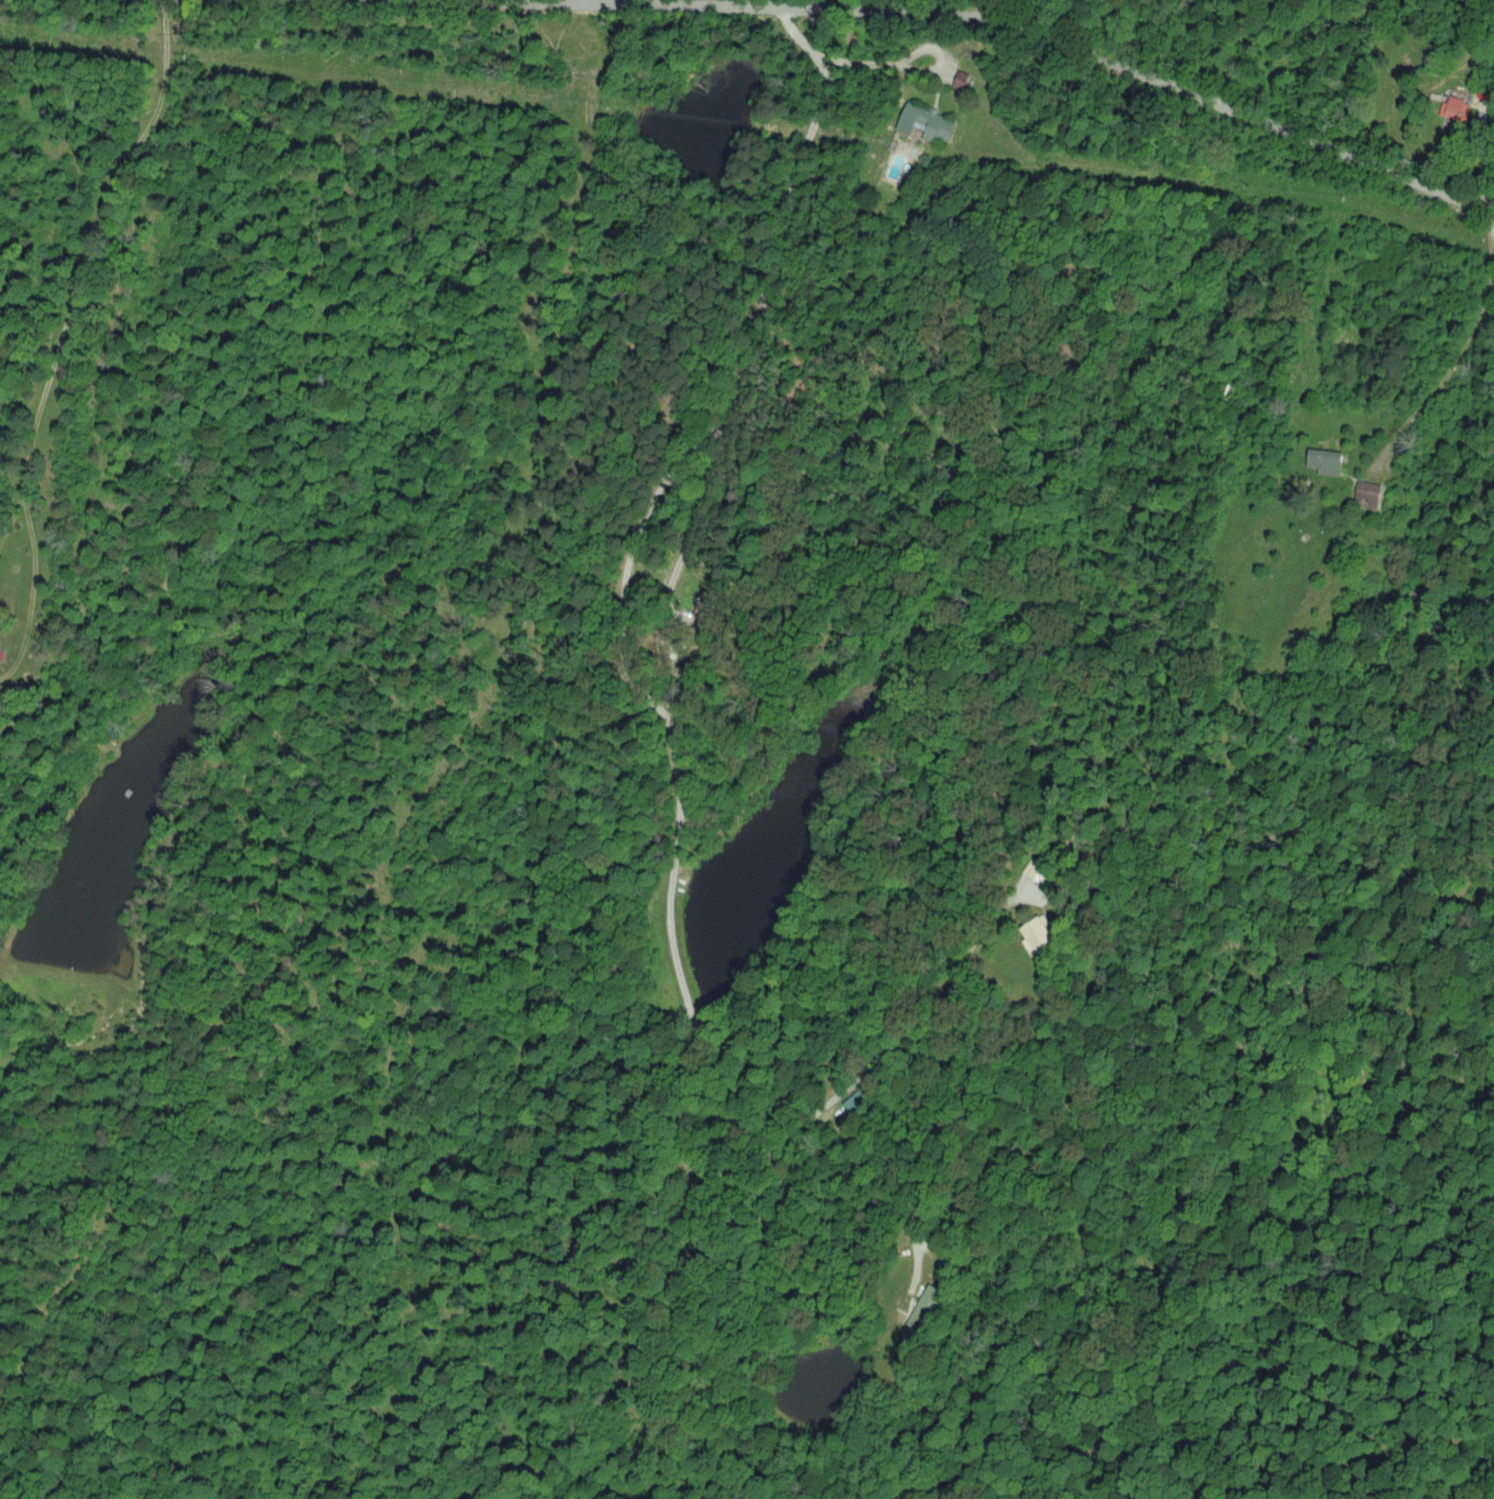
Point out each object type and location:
road: (984, 9)
road: (1040, 36)
road: (875, 62)
building: (1456, 109)
road: (1493, 209)
road: (764, 300)
road: (83, 302)
road: (1464, 342)
building: (1325, 461)
building: (1366, 493)
road: (684, 548)
building: (1035, 936)
road: (690, 1085)
road: (902, 1171)

